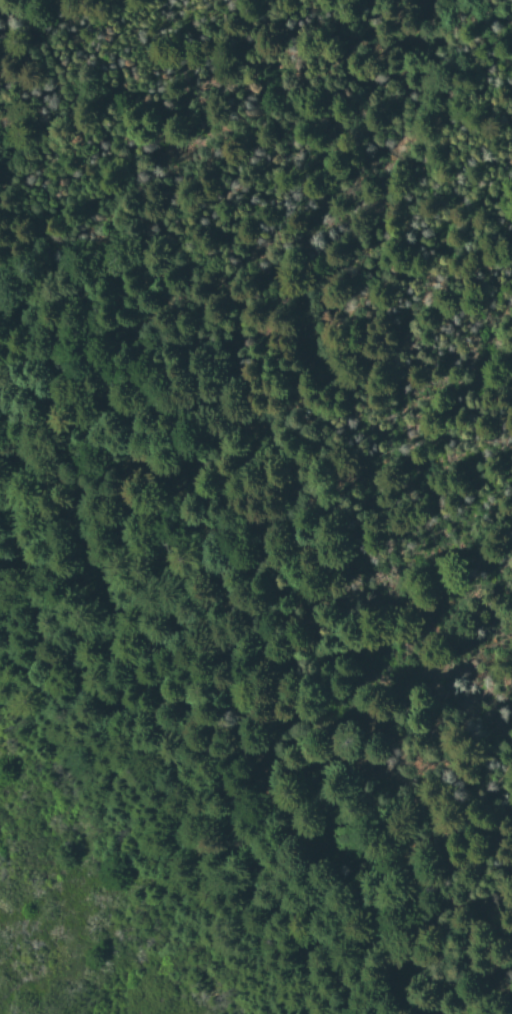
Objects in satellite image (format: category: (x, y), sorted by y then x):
road: (222, 671)

